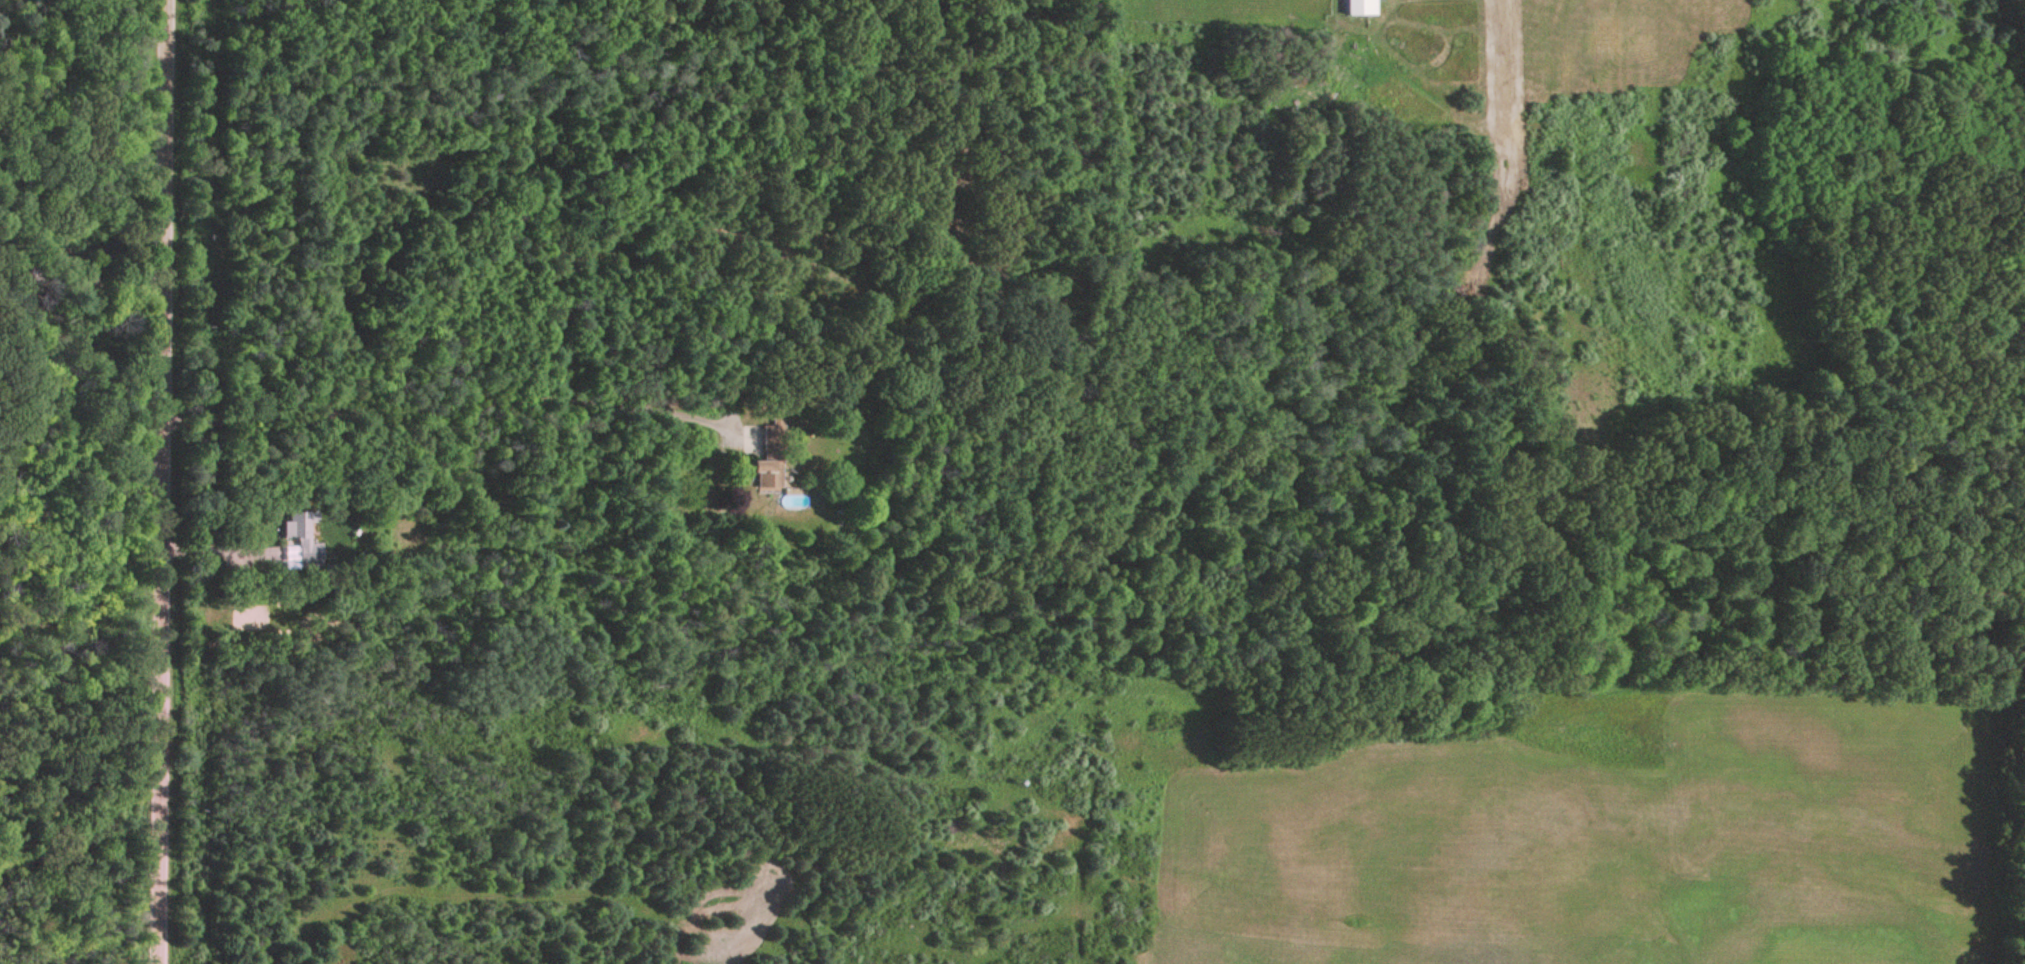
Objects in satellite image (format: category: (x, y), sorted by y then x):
building: (1363, 9)
road: (85, 274)
road: (446, 407)
building: (770, 462)
road: (170, 482)
building: (302, 540)
road: (226, 549)

